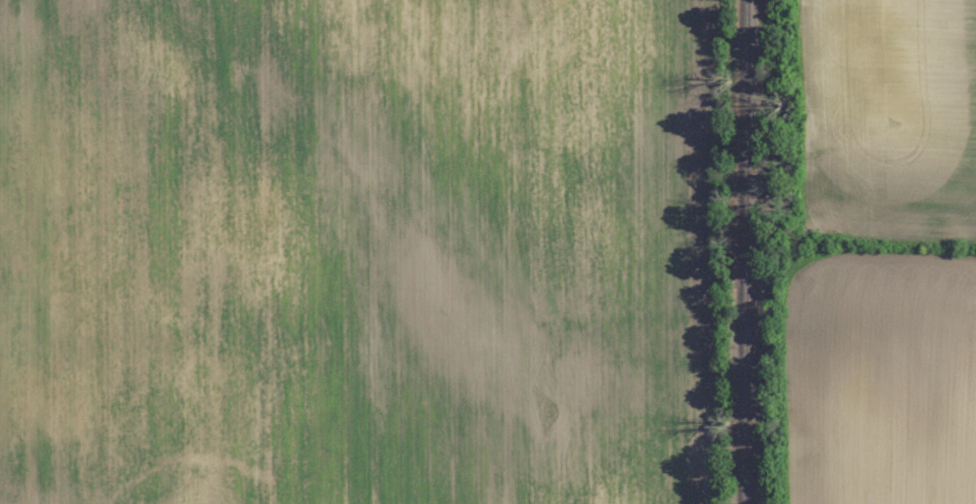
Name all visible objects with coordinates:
railway: (744, 252)

